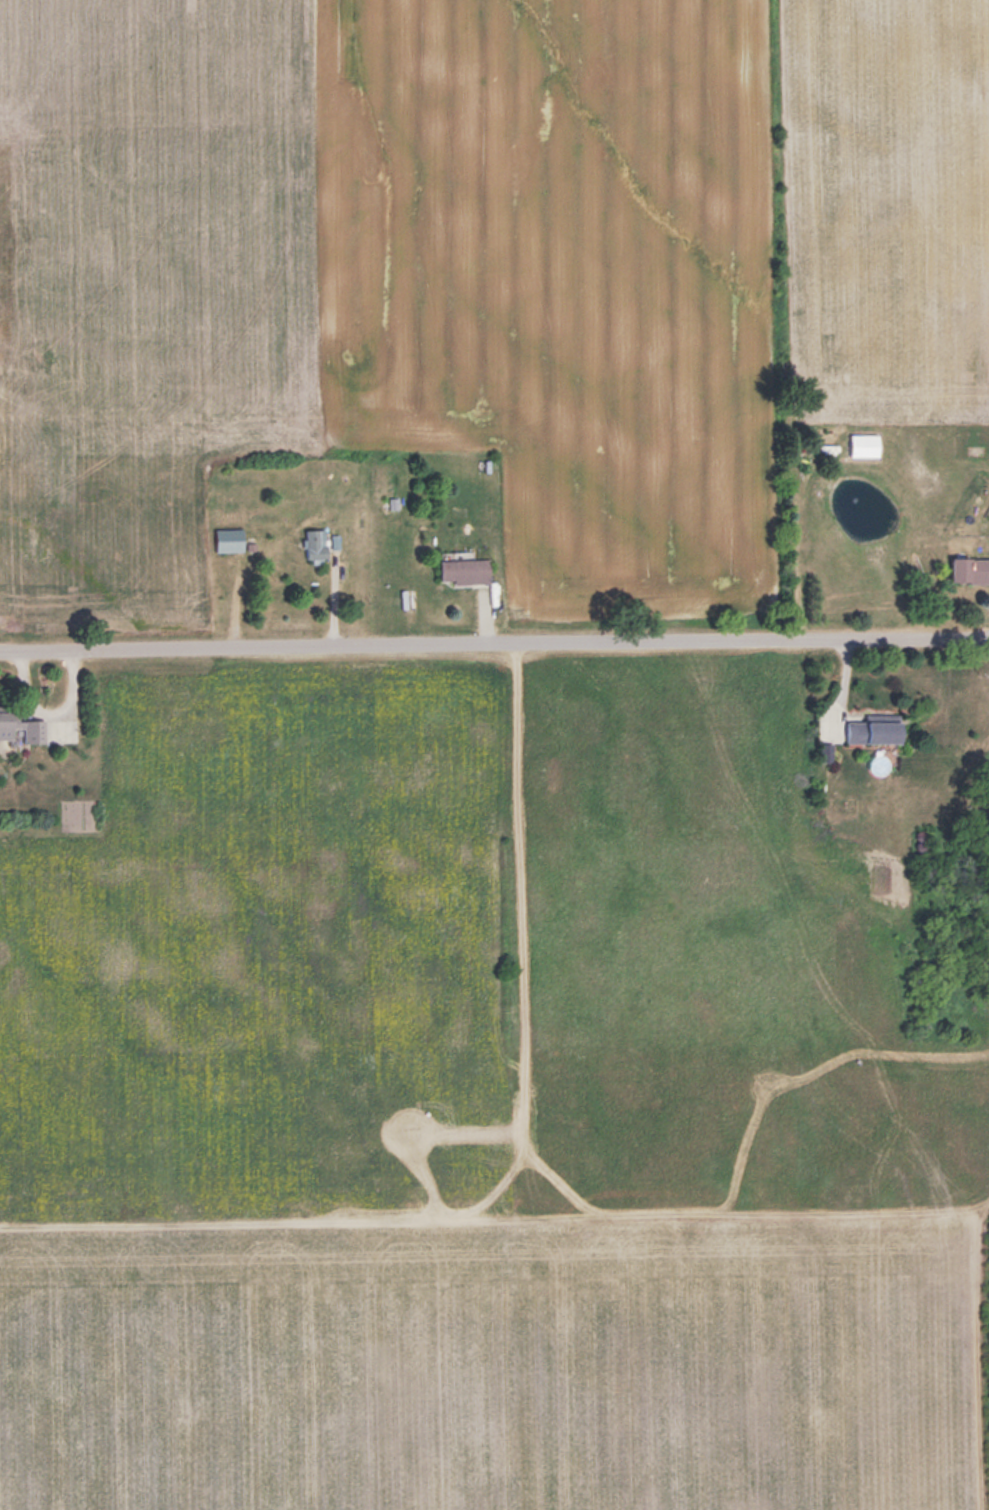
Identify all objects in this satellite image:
building: (866, 444)
building: (391, 501)
building: (231, 538)
building: (318, 543)
building: (467, 568)
building: (971, 569)
road: (494, 648)
building: (18, 725)
building: (877, 731)

